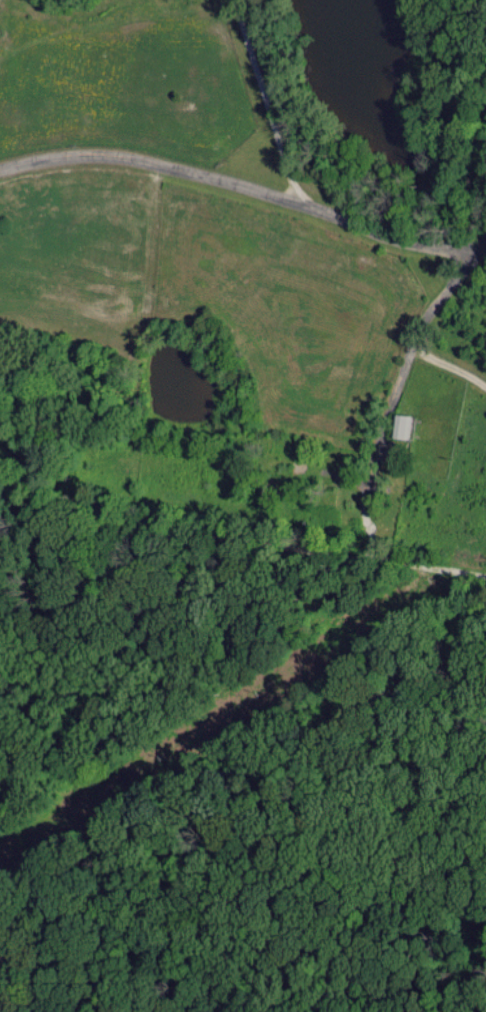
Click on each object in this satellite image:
road: (243, 184)
building: (399, 425)
road: (242, 567)

